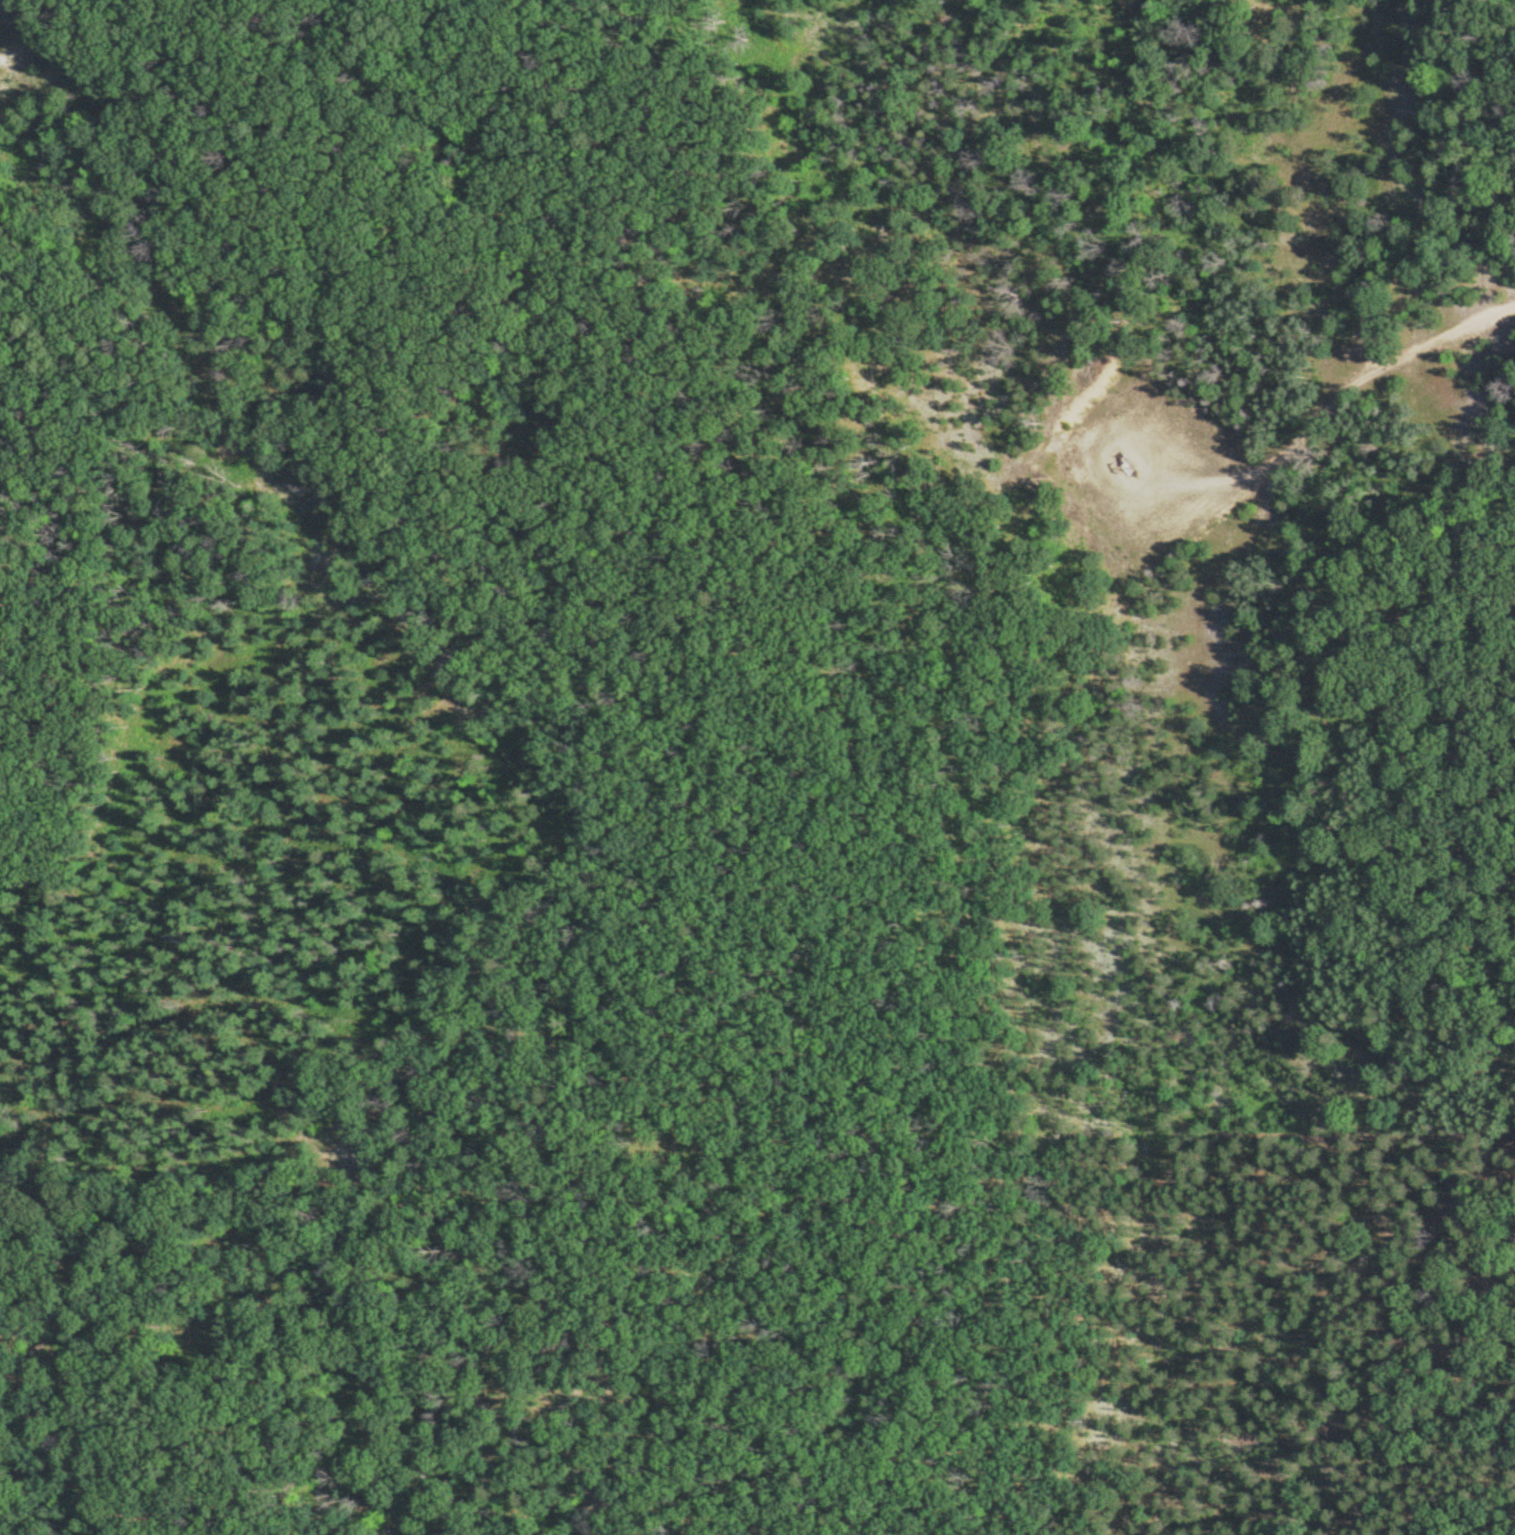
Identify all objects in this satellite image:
road: (1365, 378)
petroleum well: (1129, 467)

